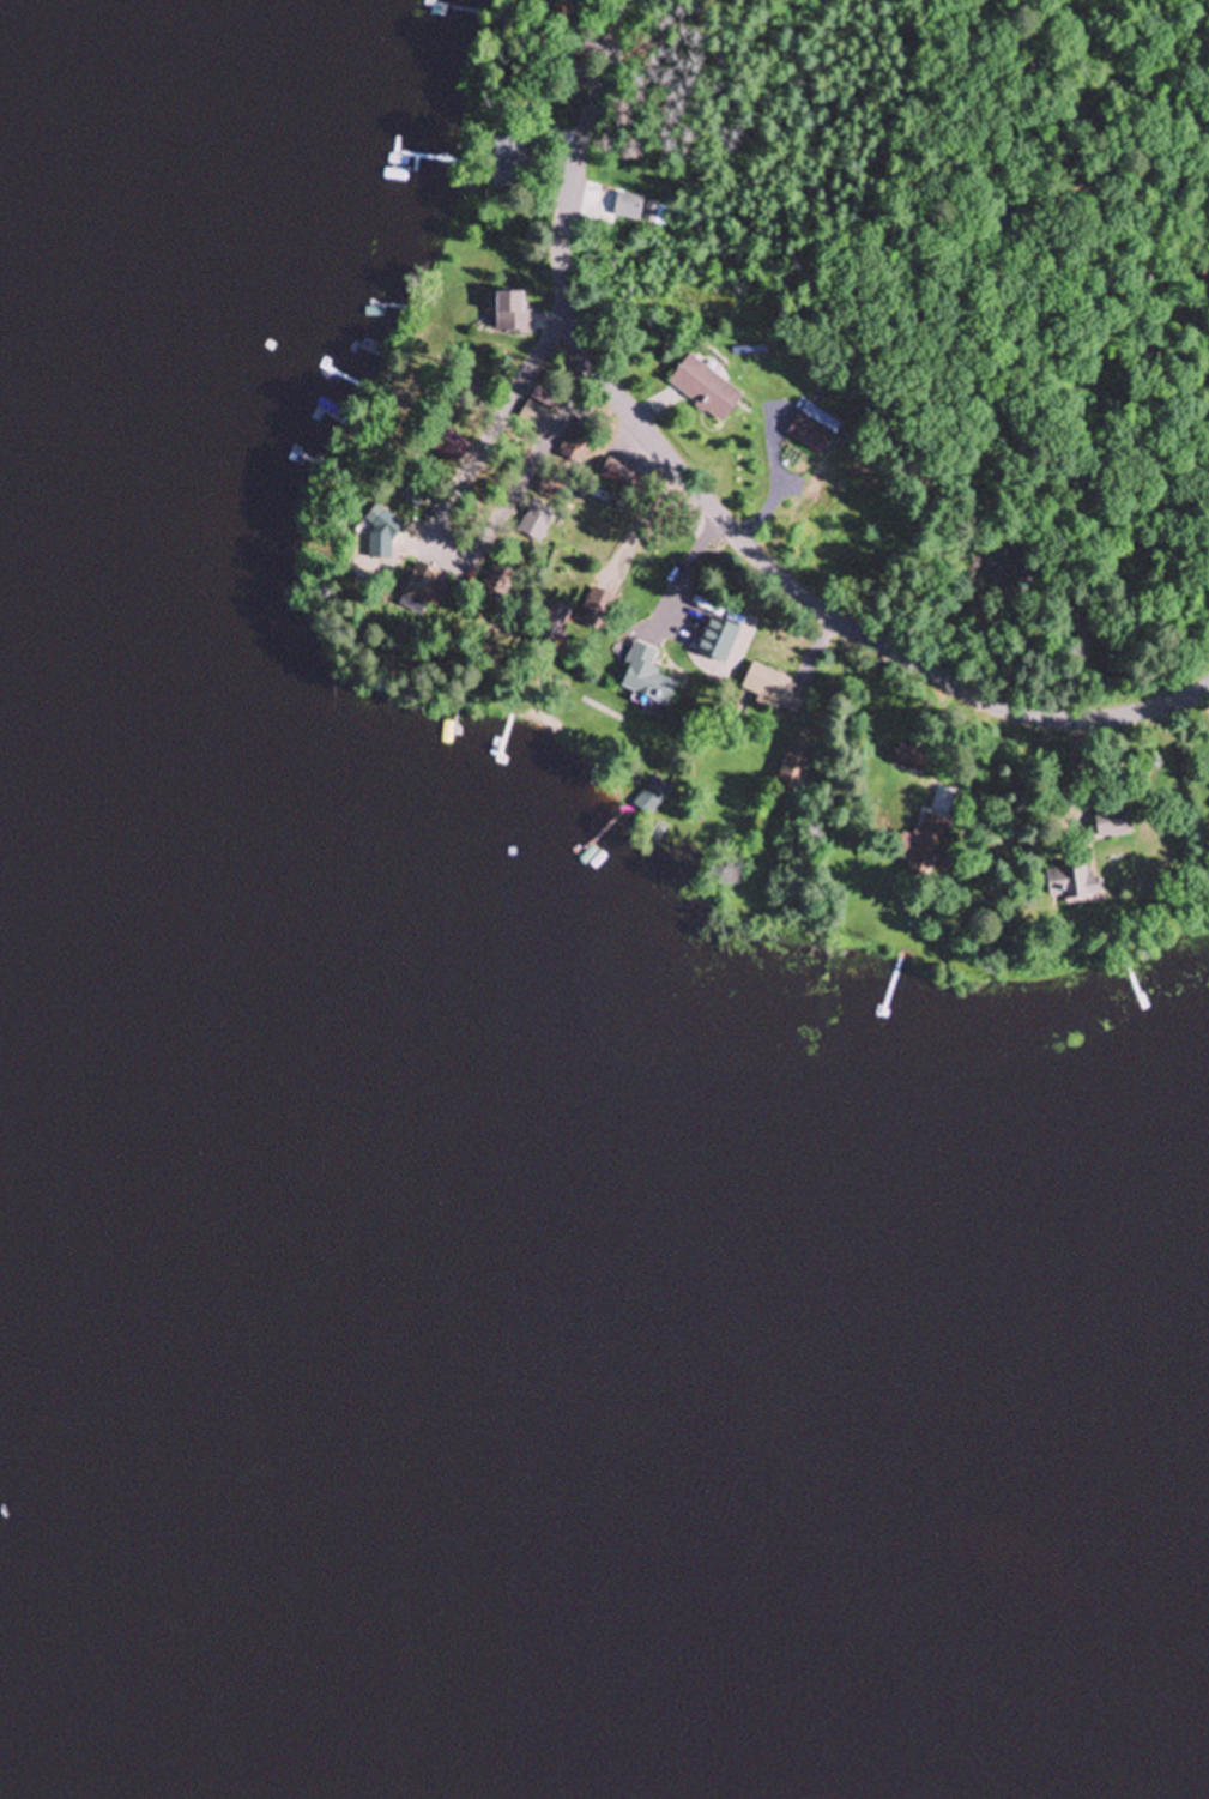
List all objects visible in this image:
building: (510, 151)
building: (628, 207)
building: (655, 215)
building: (513, 313)
building: (706, 390)
building: (538, 410)
building: (810, 434)
building: (453, 447)
building: (576, 448)
road: (711, 507)
building: (427, 587)
building: (598, 614)
building: (552, 629)
building: (648, 677)
building: (776, 690)
building: (912, 759)
building: (797, 765)
building: (648, 802)
building: (1113, 825)
building: (927, 845)
building: (1072, 883)

